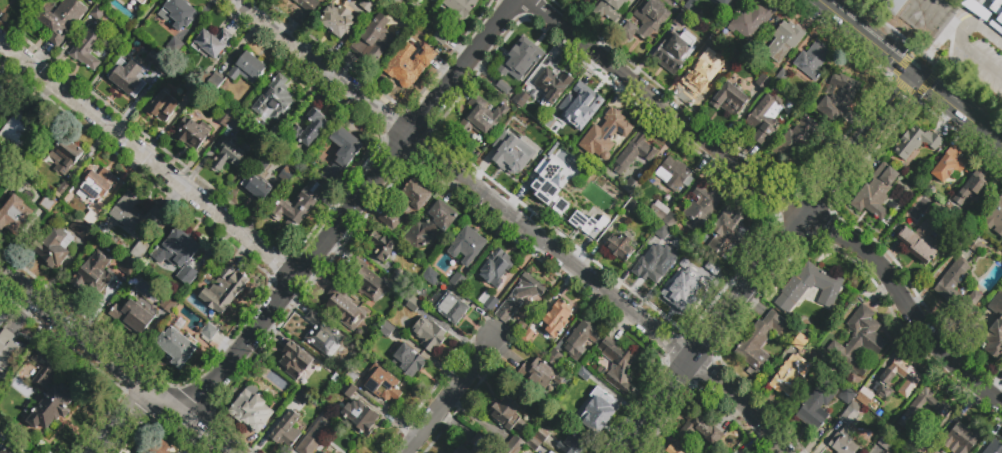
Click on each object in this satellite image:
building: (435, 1)
road: (775, 1)
building: (140, 2)
building: (728, 2)
building: (881, 2)
building: (395, 3)
building: (308, 5)
building: (693, 6)
building: (894, 6)
building: (996, 8)
building: (609, 9)
building: (457, 10)
building: (976, 10)
building: (96, 12)
building: (179, 13)
road: (815, 13)
building: (681, 17)
building: (61, 19)
building: (337, 19)
building: (647, 20)
building: (751, 20)
building: (999, 21)
road: (977, 23)
building: (442, 35)
road: (892, 36)
road: (809, 37)
road: (870, 38)
building: (373, 40)
building: (785, 41)
building: (211, 43)
building: (90, 47)
building: (175, 47)
building: (673, 52)
road: (980, 60)
building: (811, 61)
building: (157, 62)
building: (409, 64)
building: (516, 64)
building: (728, 64)
building: (247, 69)
building: (697, 75)
building: (782, 76)
traffic signals: (917, 76)
building: (128, 77)
building: (763, 81)
building: (0, 85)
building: (215, 86)
building: (552, 86)
building: (192, 88)
building: (1, 89)
building: (839, 97)
building: (521, 99)
building: (729, 99)
road: (79, 101)
building: (273, 101)
building: (582, 104)
building: (161, 106)
road: (959, 109)
building: (765, 117)
building: (481, 118)
building: (224, 119)
building: (553, 120)
road: (950, 120)
building: (236, 124)
building: (314, 126)
building: (20, 130)
building: (613, 132)
building: (192, 134)
building: (541, 135)
road: (967, 135)
building: (275, 137)
building: (916, 142)
building: (794, 143)
building: (507, 145)
road: (861, 147)
building: (558, 148)
building: (587, 152)
building: (635, 152)
building: (341, 154)
building: (228, 156)
road: (992, 156)
building: (63, 157)
road: (147, 157)
building: (949, 164)
building: (673, 173)
building: (8, 174)
building: (286, 175)
building: (257, 180)
building: (548, 181)
building: (93, 185)
building: (631, 185)
building: (973, 188)
building: (63, 189)
building: (875, 192)
road: (775, 193)
building: (616, 196)
building: (706, 204)
building: (48, 206)
building: (299, 206)
building: (404, 206)
building: (559, 206)
building: (586, 208)
road: (345, 210)
building: (633, 210)
building: (660, 210)
building: (92, 218)
building: (15, 219)
building: (995, 219)
road: (518, 220)
building: (132, 223)
building: (672, 223)
building: (430, 225)
building: (82, 232)
building: (663, 233)
building: (727, 234)
building: (921, 240)
building: (975, 243)
building: (467, 245)
building: (382, 247)
building: (55, 248)
building: (620, 249)
building: (176, 250)
building: (655, 263)
building: (127, 267)
building: (494, 267)
building: (94, 273)
building: (189, 277)
building: (431, 278)
building: (458, 281)
building: (368, 283)
building: (689, 285)
building: (945, 287)
building: (224, 288)
building: (810, 289)
building: (518, 297)
building: (170, 303)
building: (489, 303)
building: (413, 305)
building: (344, 308)
building: (451, 308)
building: (133, 315)
building: (557, 318)
building: (385, 329)
building: (209, 331)
road: (713, 332)
building: (429, 334)
building: (322, 335)
building: (527, 335)
building: (581, 340)
building: (760, 340)
building: (995, 340)
building: (858, 341)
building: (176, 346)
building: (8, 348)
building: (813, 356)
building: (295, 359)
building: (555, 359)
building: (409, 360)
road: (113, 362)
building: (617, 364)
building: (540, 375)
building: (789, 375)
building: (334, 378)
building: (588, 379)
building: (910, 380)
building: (381, 383)
building: (349, 385)
building: (48, 392)
building: (290, 393)
road: (449, 395)
building: (848, 398)
building: (867, 399)
building: (301, 400)
building: (940, 408)
building: (249, 409)
building: (598, 409)
building: (815, 409)
building: (506, 415)
building: (852, 415)
building: (360, 416)
road: (126, 418)
building: (698, 428)
building: (286, 430)
building: (541, 434)
building: (315, 436)
building: (963, 439)
building: (844, 441)
building: (573, 442)
building: (885, 442)
building: (533, 444)
building: (480, 445)
building: (513, 445)
building: (10, 449)
building: (460, 449)
building: (672, 449)
building: (920, 449)
building: (986, 449)
building: (153, 450)
building: (176, 452)
building: (320, 452)
building: (324, 452)
building: (540, 452)
building: (932, 452)

